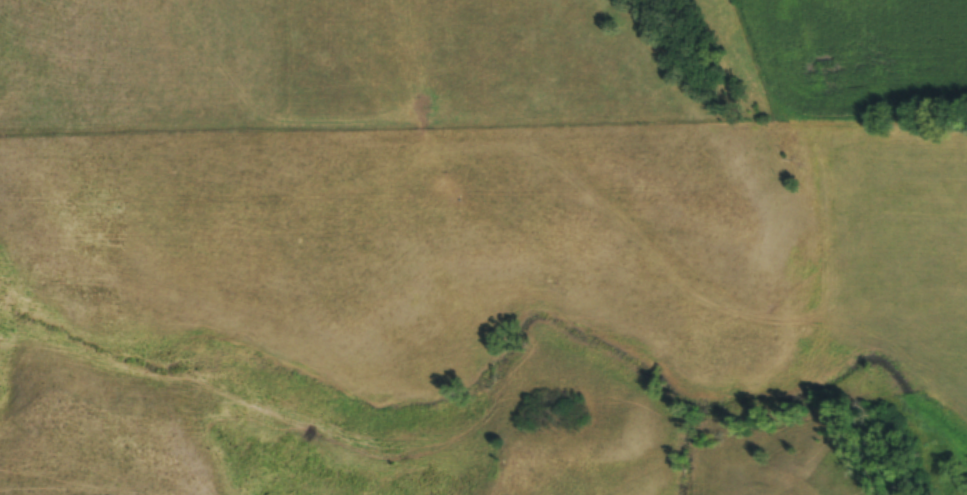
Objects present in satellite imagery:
crop: (867, 46)

